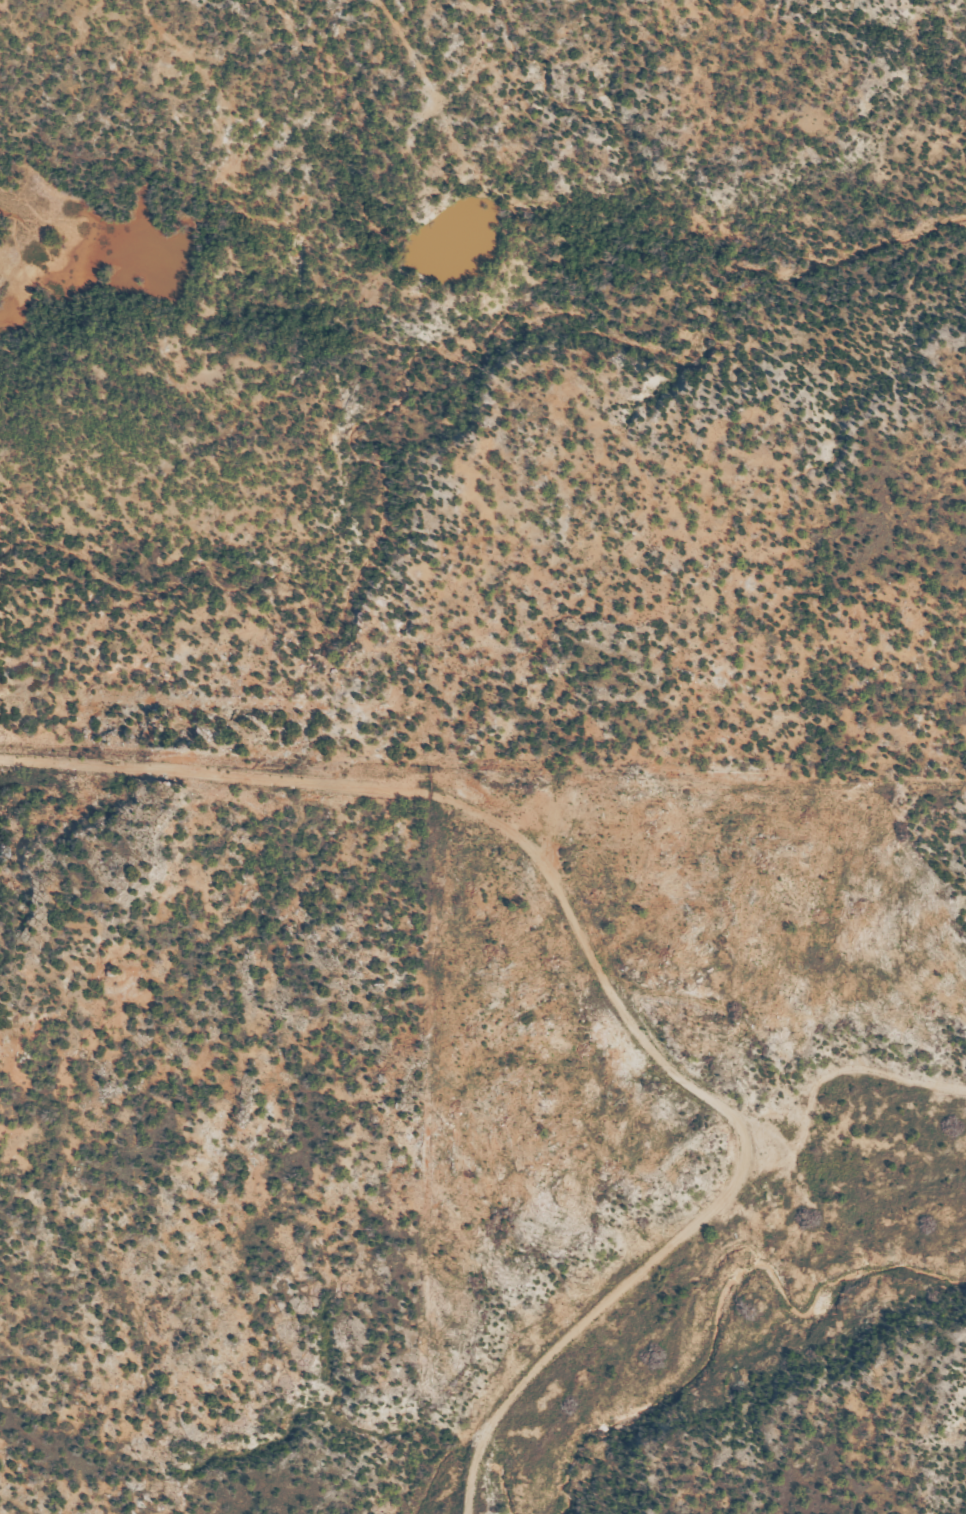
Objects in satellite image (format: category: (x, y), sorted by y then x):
road: (604, 980)

